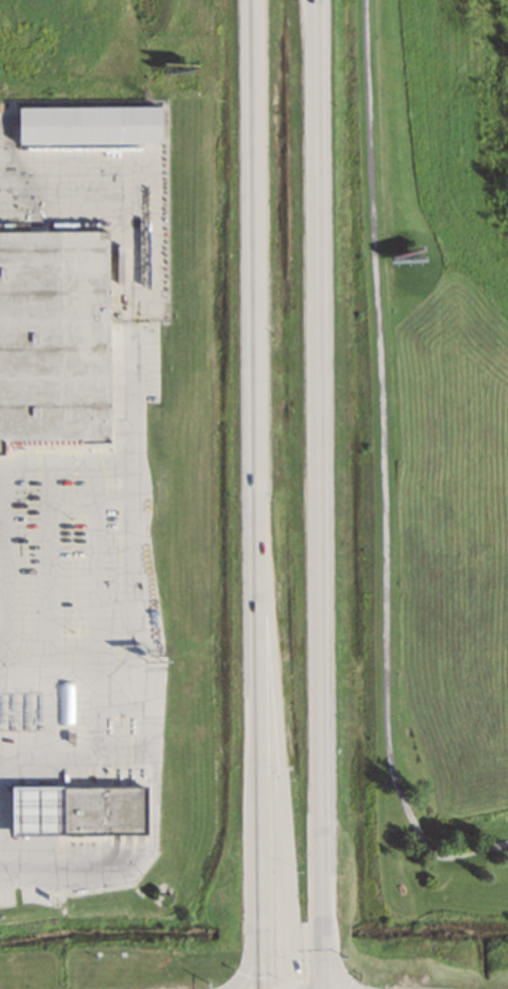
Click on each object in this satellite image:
building: (88, 125)
building: (55, 338)
road: (385, 470)
road: (260, 494)
road: (320, 494)
road: (131, 617)
building: (81, 706)
road: (281, 767)
building: (75, 810)

